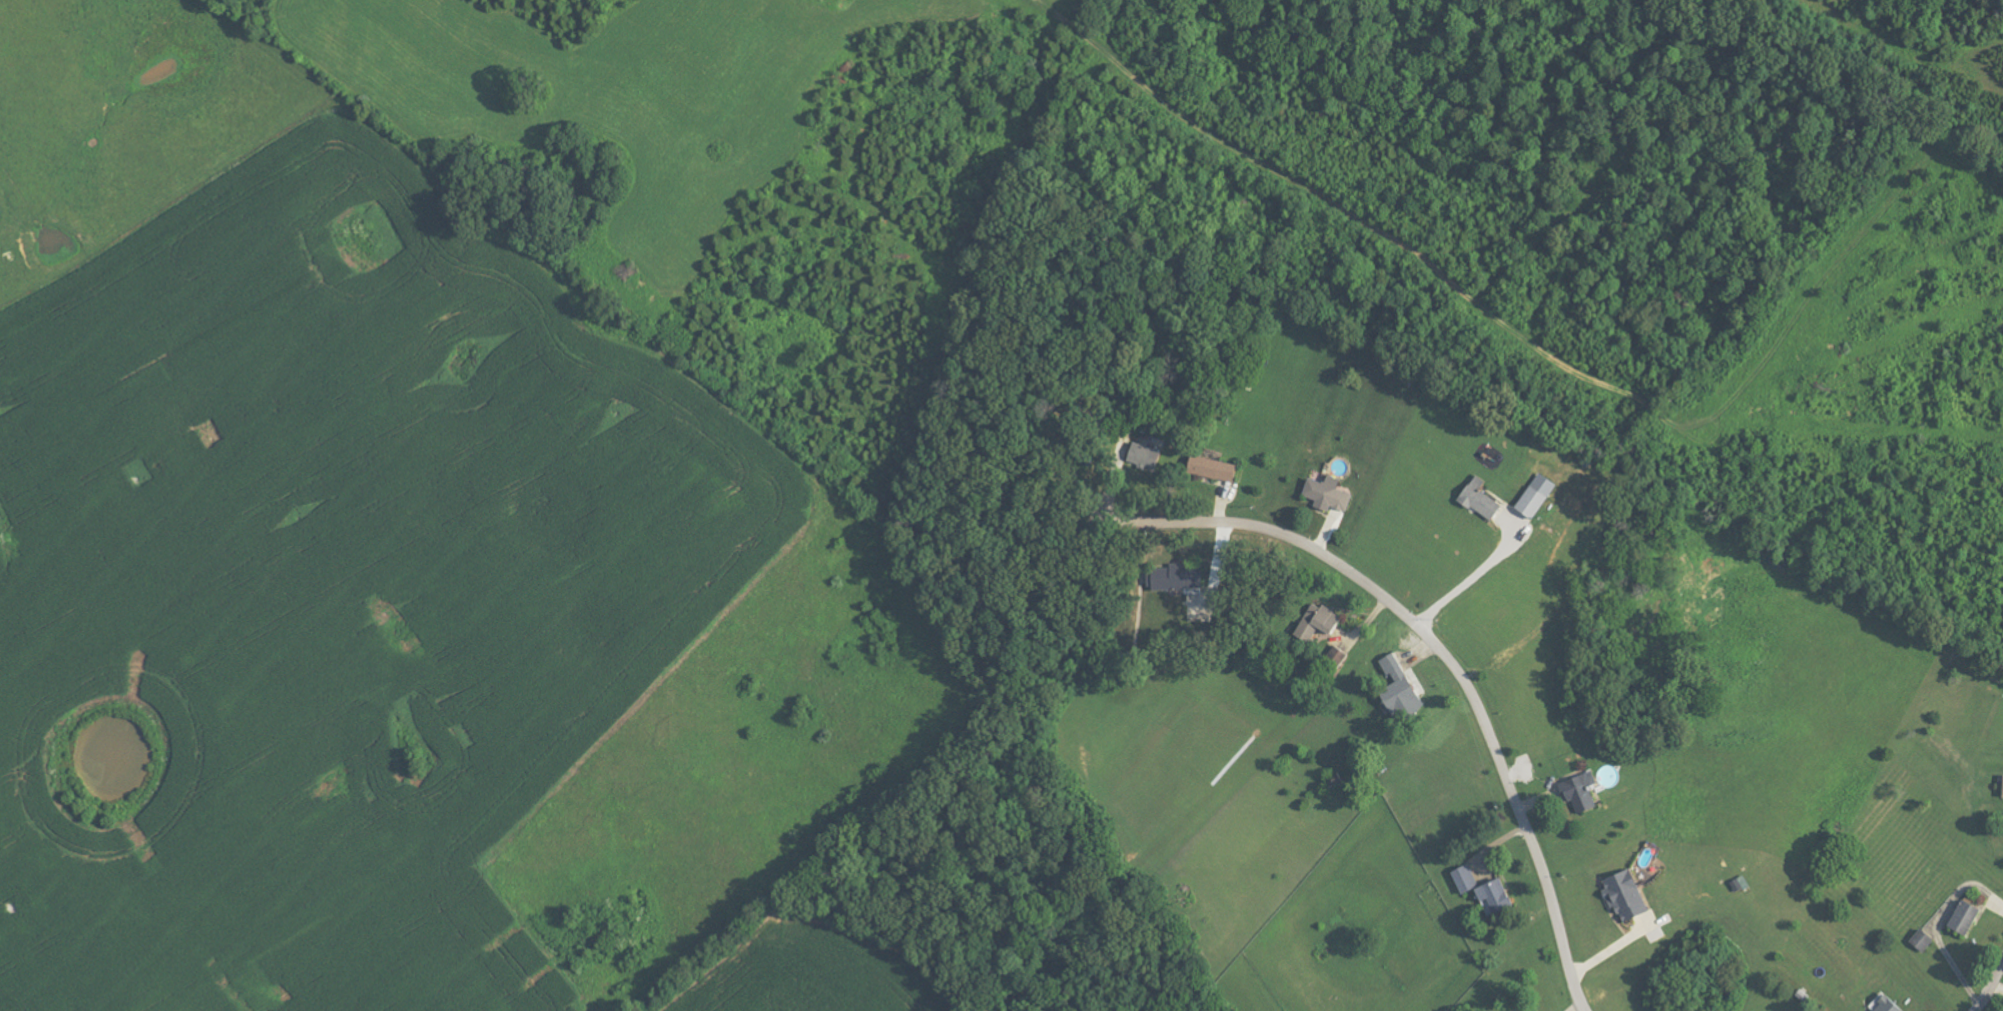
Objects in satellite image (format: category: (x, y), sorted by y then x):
building: (1331, 494)
building: (1540, 496)
building: (1485, 500)
building: (1183, 577)
road: (1467, 579)
building: (1325, 624)
road: (1452, 664)
building: (1403, 688)
building: (1584, 793)
building: (1467, 880)
building: (1630, 897)
building: (1497, 898)
building: (1967, 916)
road: (1936, 923)
road: (1990, 990)
building: (1890, 1005)

